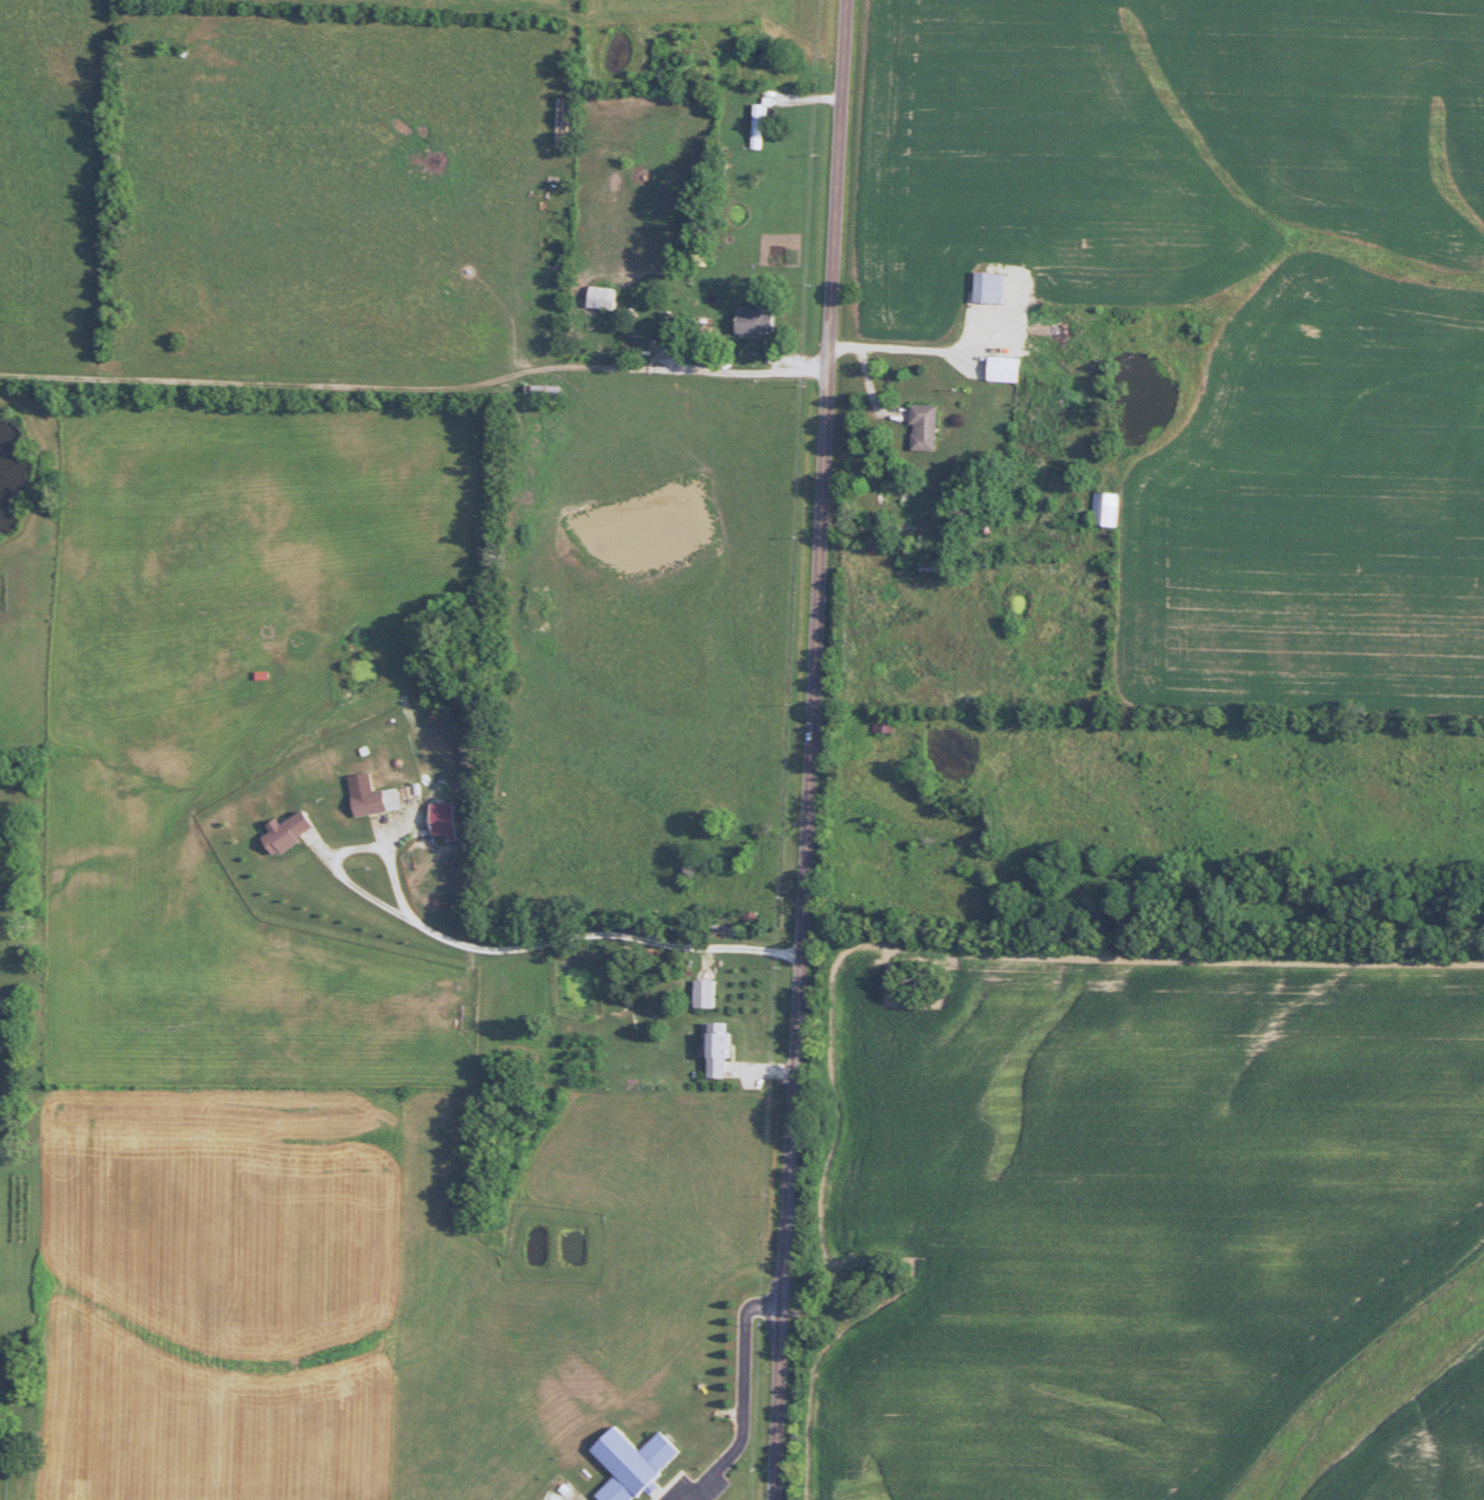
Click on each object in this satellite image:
building: (760, 123)
building: (993, 288)
building: (605, 298)
building: (760, 321)
building: (1009, 368)
road: (730, 372)
building: (548, 392)
building: (928, 427)
building: (1111, 509)
building: (886, 723)
road: (809, 750)
building: (375, 802)
road: (494, 949)
building: (723, 1050)
road: (742, 1397)
building: (635, 1463)

